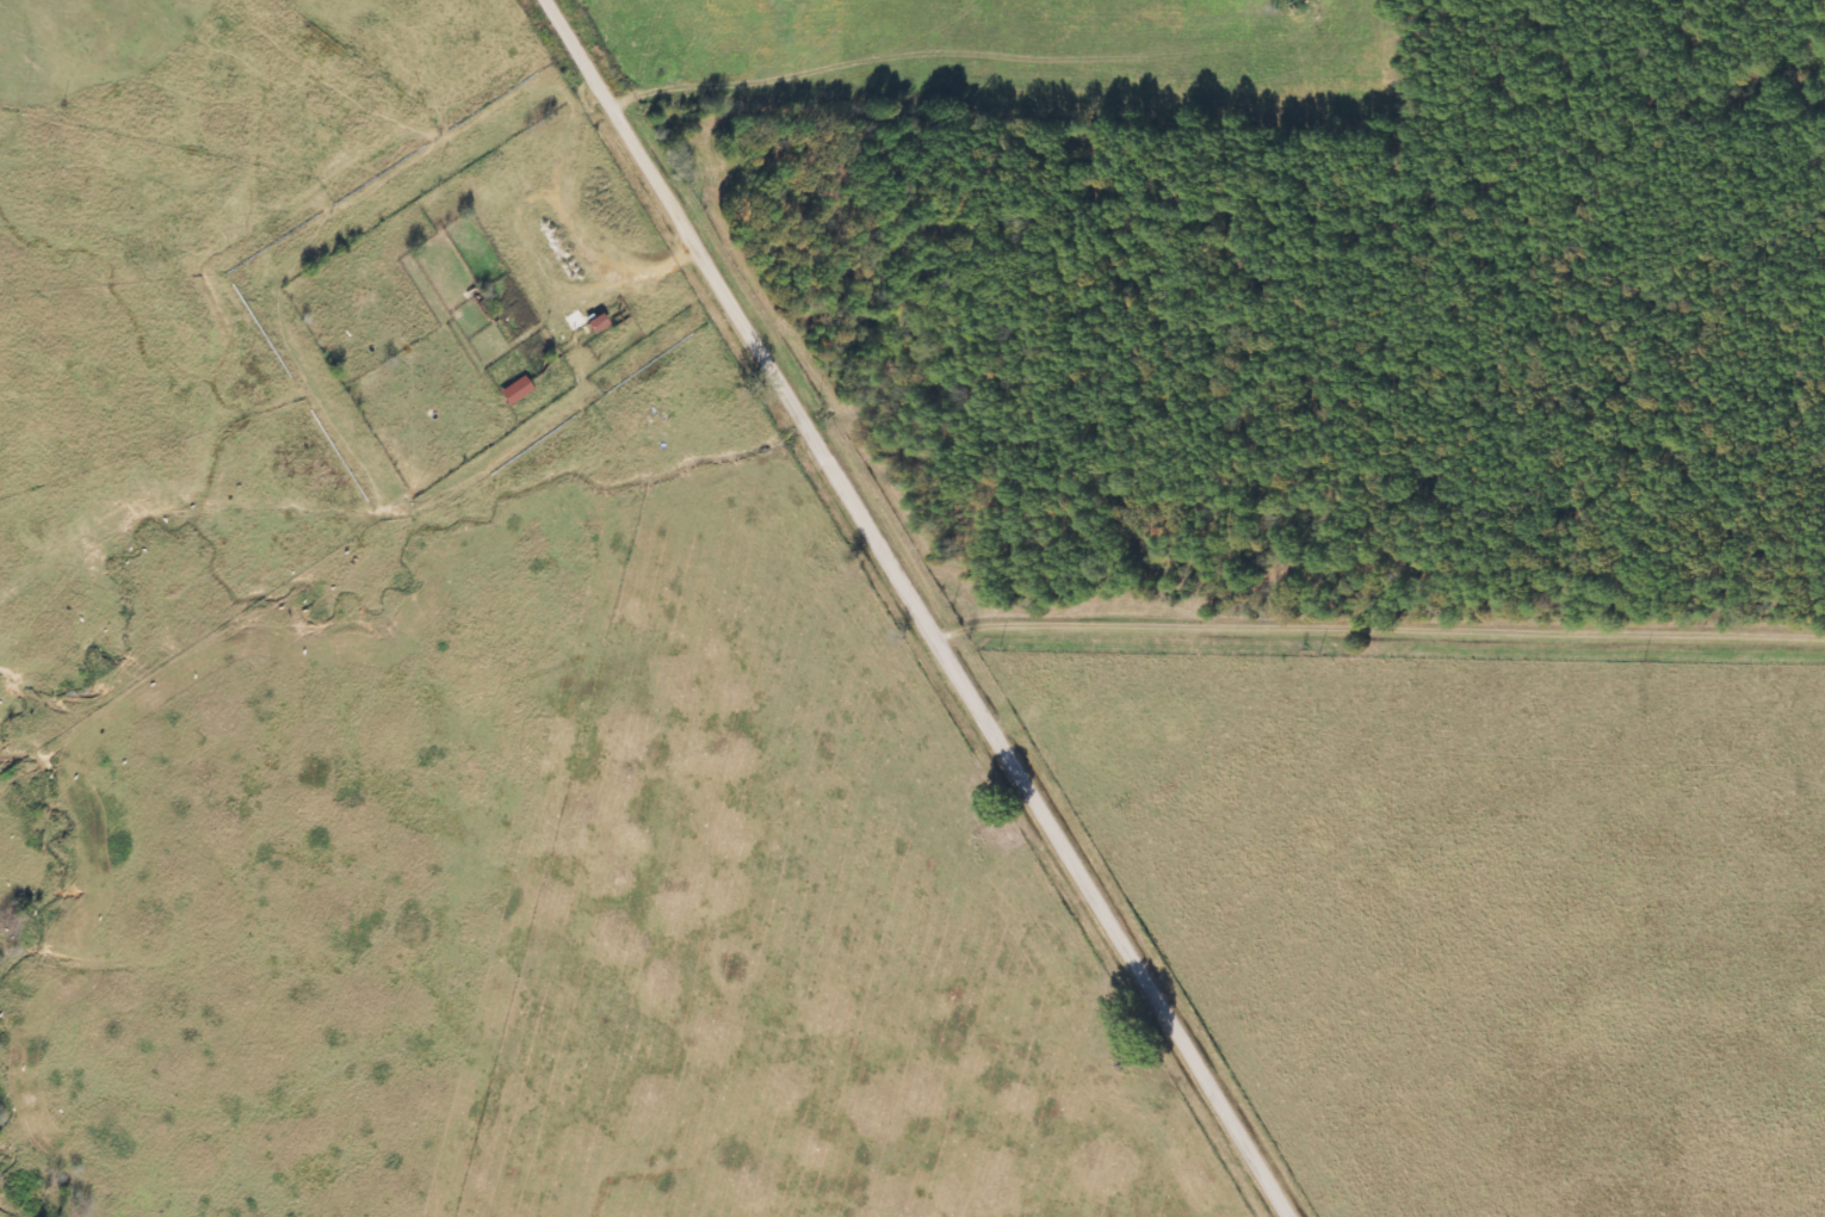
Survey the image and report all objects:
building: (520, 390)
road: (911, 610)

